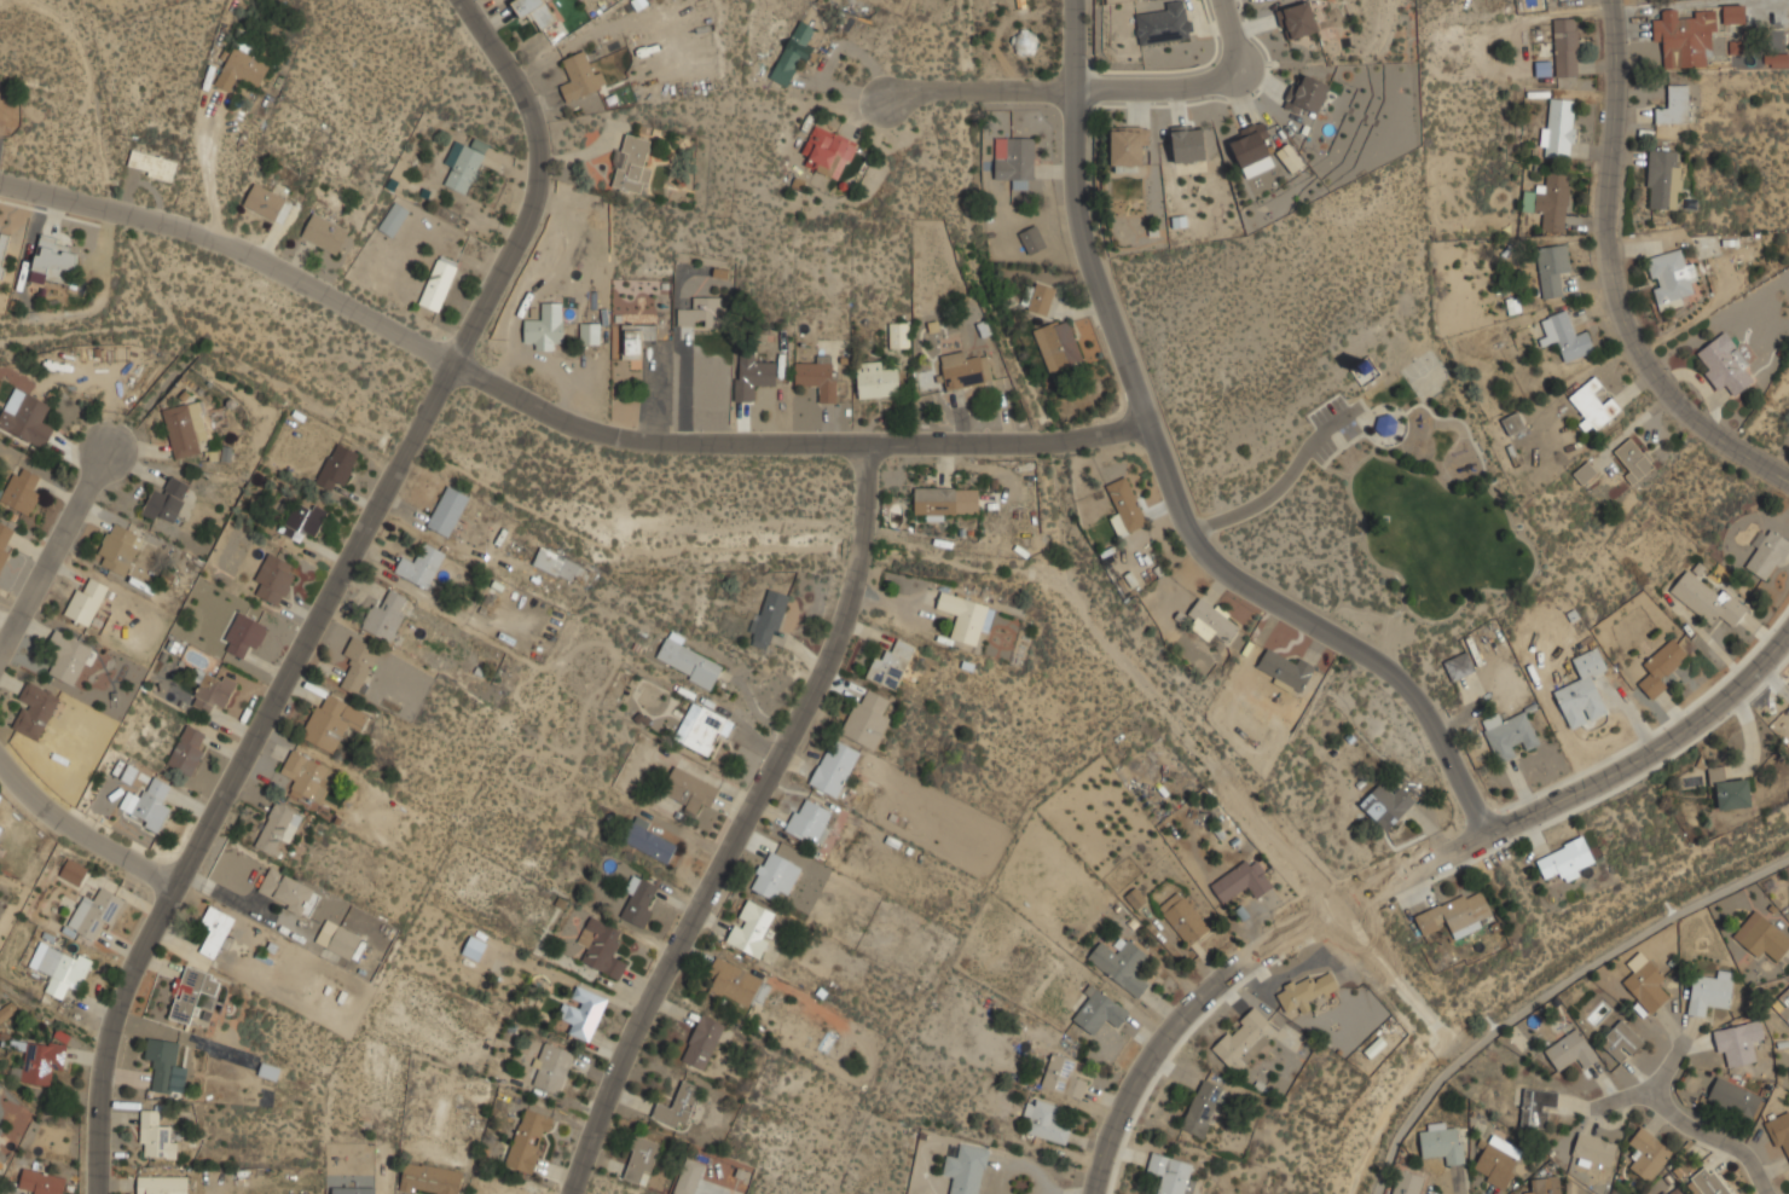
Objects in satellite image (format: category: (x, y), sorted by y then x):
building: (533, 11)
building: (1733, 13)
building: (1299, 19)
building: (1163, 23)
building: (1685, 37)
building: (1567, 47)
building: (794, 51)
building: (242, 69)
building: (580, 75)
road: (1195, 82)
road: (977, 88)
building: (1310, 93)
building: (1675, 105)
building: (1561, 127)
building: (1128, 144)
building: (1188, 145)
building: (1254, 150)
building: (828, 152)
building: (1014, 160)
building: (632, 163)
building: (152, 164)
building: (465, 166)
building: (1663, 178)
road: (207, 179)
building: (1552, 201)
building: (267, 203)
building: (393, 218)
building: (325, 233)
building: (1032, 239)
building: (4, 251)
building: (53, 261)
building: (1552, 268)
building: (1671, 277)
road: (1610, 279)
building: (439, 283)
building: (1041, 298)
building: (700, 312)
building: (544, 331)
building: (590, 332)
building: (899, 334)
building: (1565, 335)
building: (635, 340)
building: (1058, 344)
building: (1725, 366)
building: (965, 370)
building: (754, 376)
building: (817, 377)
building: (876, 379)
building: (1593, 405)
road: (550, 415)
building: (27, 417)
parking lot: (1333, 422)
building: (1513, 423)
building: (185, 428)
building: (1633, 459)
building: (337, 465)
building: (1585, 473)
road: (1166, 479)
road: (1275, 481)
park: (1435, 488)
building: (21, 491)
building: (167, 500)
building: (946, 500)
building: (1125, 506)
building: (448, 510)
building: (303, 520)
building: (6, 541)
building: (120, 549)
road: (52, 551)
building: (1768, 555)
building: (421, 566)
building: (561, 566)
building: (274, 578)
road: (332, 589)
building: (86, 601)
building: (1708, 601)
building: (387, 615)
building: (967, 616)
building: (769, 620)
building: (1212, 621)
building: (244, 634)
building: (68, 657)
building: (688, 661)
building: (358, 663)
building: (891, 665)
building: (1460, 666)
building: (1662, 666)
building: (1285, 670)
building: (213, 690)
building: (1581, 690)
building: (35, 709)
building: (867, 718)
building: (332, 720)
building: (701, 728)
building: (1509, 735)
road: (1649, 748)
building: (189, 749)
building: (835, 767)
building: (307, 777)
building: (689, 789)
building: (1730, 790)
building: (1386, 804)
building: (147, 805)
building: (0, 810)
building: (810, 821)
road: (741, 824)
building: (277, 829)
road: (76, 837)
building: (648, 840)
building: (1565, 860)
building: (73, 871)
building: (772, 876)
building: (1241, 881)
building: (289, 892)
building: (1135, 898)
building: (641, 899)
building: (95, 914)
building: (1455, 914)
building: (1185, 918)
building: (751, 928)
building: (215, 931)
building: (1761, 937)
building: (345, 943)
building: (474, 947)
building: (602, 947)
building: (1122, 962)
road: (1244, 967)
building: (60, 968)
building: (734, 983)
building: (1645, 983)
building: (1307, 991)
building: (1709, 991)
building: (191, 992)
building: (1783, 1005)
building: (7, 1010)
building: (1100, 1010)
building: (583, 1012)
building: (1246, 1039)
building: (704, 1042)
building: (1621, 1042)
building: (1739, 1042)
building: (1571, 1049)
building: (1788, 1055)
building: (40, 1062)
building: (167, 1065)
building: (551, 1068)
building: (1064, 1076)
building: (1735, 1097)
road: (1629, 1099)
building: (1535, 1105)
building: (677, 1106)
building: (1203, 1108)
building: (1046, 1119)
road: (1703, 1121)
building: (155, 1134)
building: (1781, 1134)
building: (1441, 1140)
building: (528, 1141)
building: (1594, 1149)
building: (1648, 1153)
building: (641, 1160)
building: (1498, 1161)
building: (1, 1165)
building: (967, 1169)
building: (1170, 1173)
building: (689, 1176)
building: (429, 1178)
building: (1708, 1181)
building: (40, 1182)
building: (1406, 1182)
building: (162, 1184)
building: (1545, 1186)
building: (353, 1190)
building: (1673, 1190)

